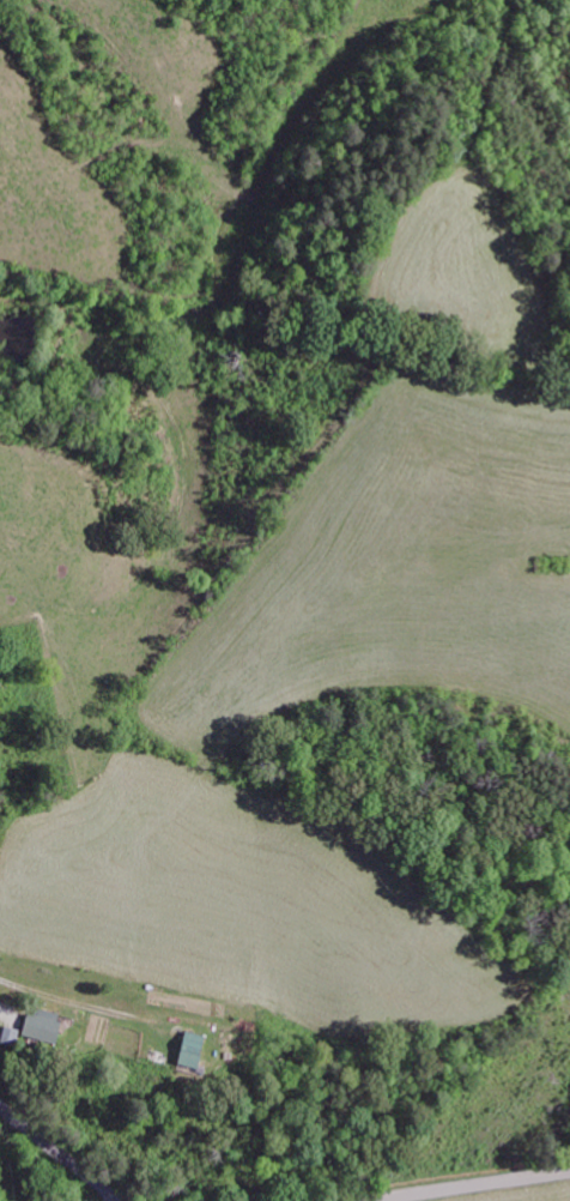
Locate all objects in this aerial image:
building: (40, 1024)
power tower: (566, 1046)
building: (187, 1048)
road: (57, 1154)
road: (468, 1184)

